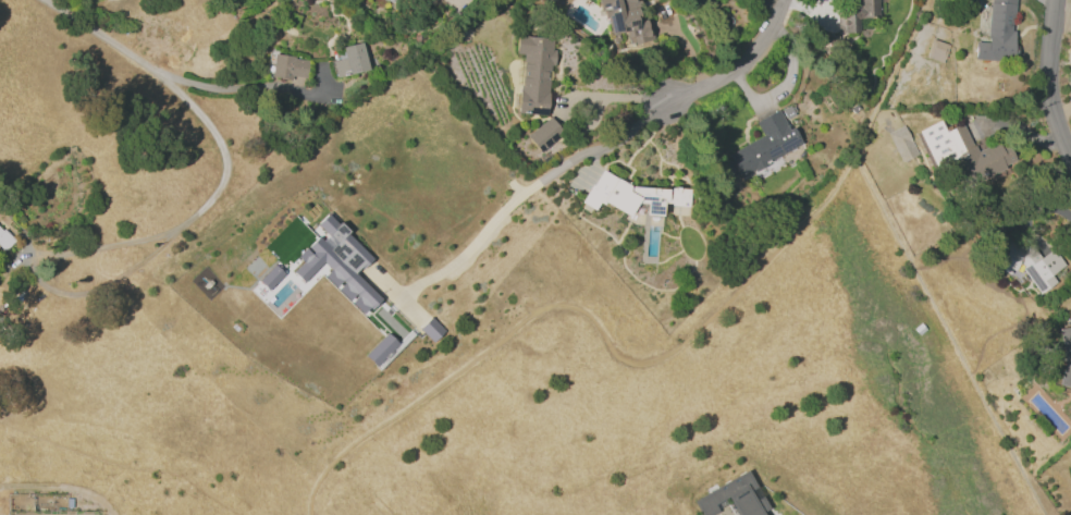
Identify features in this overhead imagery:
road: (771, 4)
building: (855, 14)
building: (625, 20)
building: (997, 32)
building: (936, 50)
building: (348, 60)
building: (288, 66)
road: (738, 69)
building: (533, 73)
road: (169, 75)
road: (1047, 79)
road: (785, 81)
road: (569, 97)
building: (543, 134)
building: (901, 143)
building: (762, 146)
building: (963, 151)
road: (529, 186)
building: (630, 195)
road: (1045, 207)
building: (3, 242)
road: (109, 245)
building: (1023, 260)
road: (911, 262)
building: (337, 263)
building: (270, 277)
road: (587, 319)
building: (431, 329)
building: (380, 350)
building: (1064, 357)
building: (733, 498)

